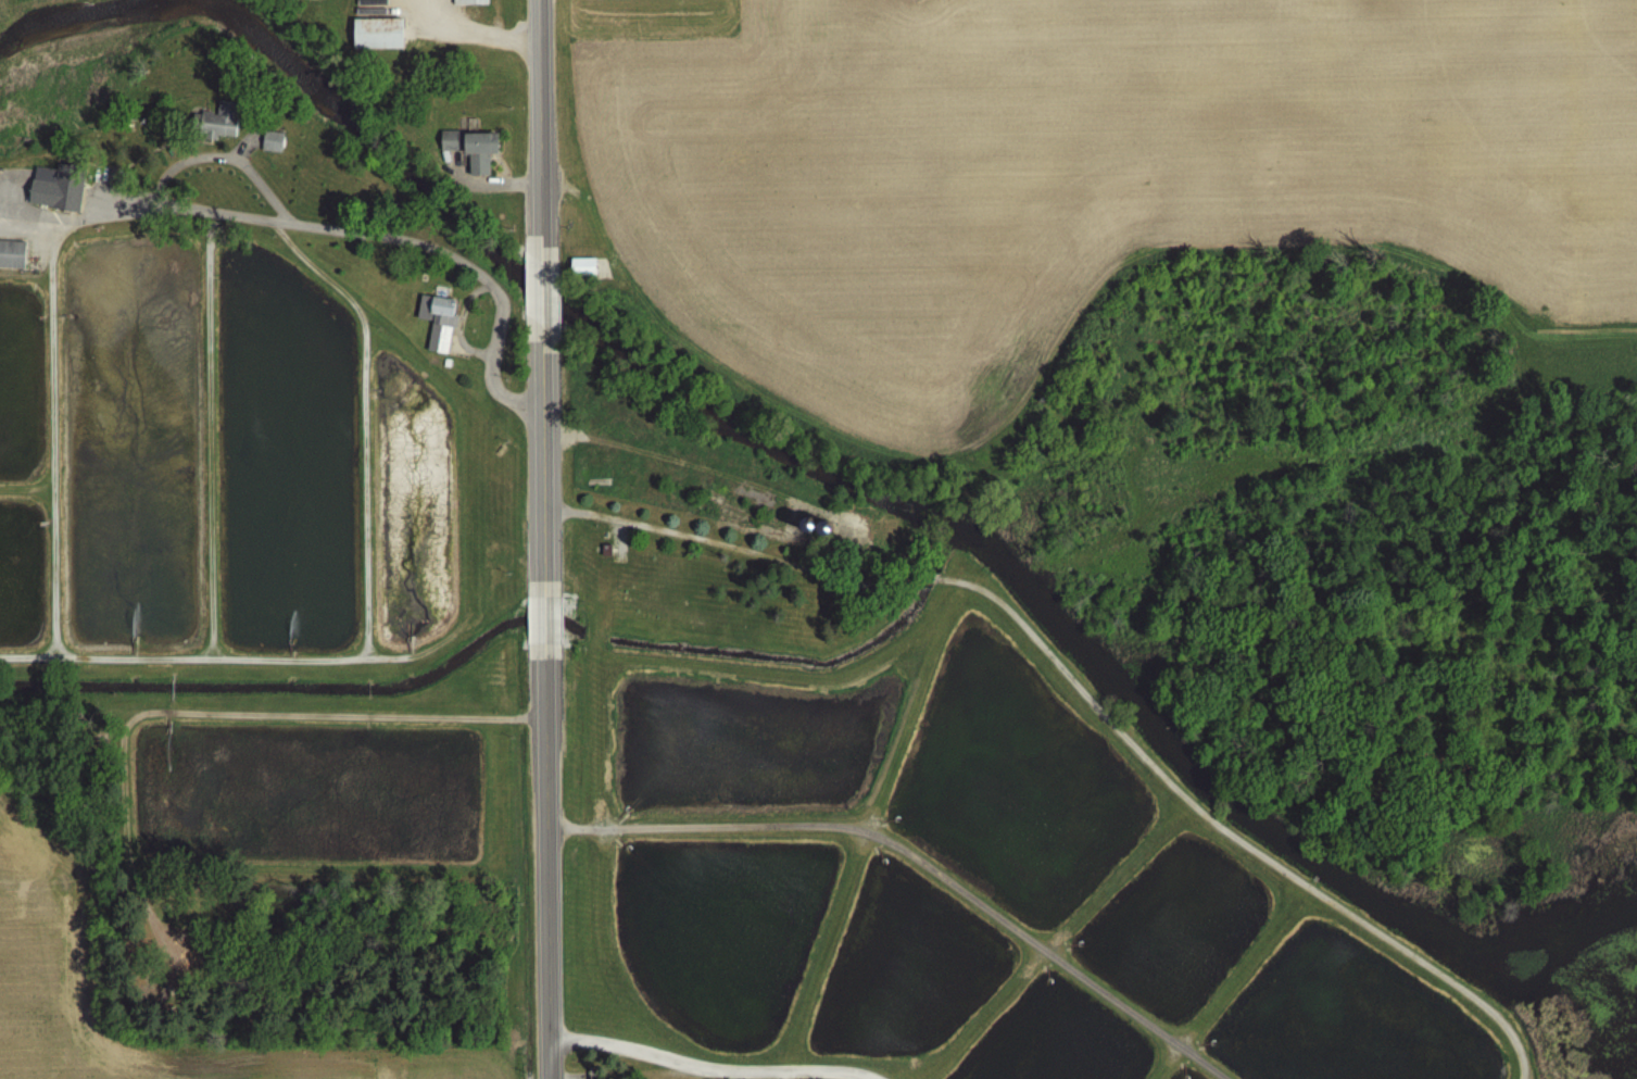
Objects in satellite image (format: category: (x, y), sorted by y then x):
building: (470, 1)
river: (51, 22)
building: (377, 33)
road: (534, 115)
building: (219, 121)
building: (273, 141)
building: (470, 147)
building: (54, 188)
building: (11, 254)
building: (581, 266)
road: (534, 293)
building: (435, 316)
river: (918, 501)
road: (596, 513)
road: (540, 716)
road: (1110, 718)
aquafarm: (743, 739)
aquafarm: (1011, 782)
road: (890, 837)
aquafarm: (1173, 920)
aquafarm: (716, 924)
aquafarm: (906, 959)
aquafarm: (1344, 1020)
aquafarm: (1054, 1039)
road: (1206, 1059)
road: (713, 1065)
road: (565, 1072)
aquafarm: (1183, 1074)

